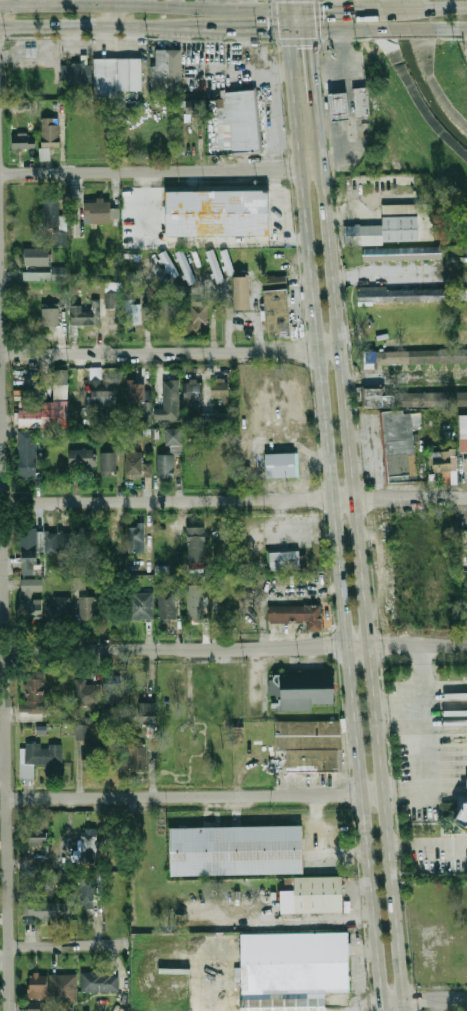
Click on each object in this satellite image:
road: (284, 5)
road: (306, 5)
road: (142, 7)
road: (446, 7)
road: (400, 9)
road: (296, 10)
traffic signals: (323, 10)
road: (333, 10)
road: (367, 10)
road: (111, 18)
road: (286, 21)
road: (308, 21)
road: (86, 29)
road: (230, 30)
traffic signals: (270, 31)
road: (298, 31)
road: (340, 31)
road: (402, 31)
road: (450, 31)
traffic signals: (310, 47)
road: (328, 61)
road: (279, 67)
road: (311, 67)
building: (165, 71)
building: (78, 74)
building: (118, 76)
river: (415, 76)
road: (270, 95)
building: (363, 102)
road: (350, 105)
building: (197, 106)
building: (340, 107)
building: (240, 121)
road: (334, 130)
building: (51, 132)
road: (286, 142)
building: (25, 143)
building: (44, 154)
road: (160, 172)
building: (219, 211)
building: (51, 212)
building: (100, 212)
building: (395, 226)
building: (61, 238)
building: (401, 253)
building: (37, 256)
building: (196, 256)
building: (226, 259)
building: (168, 262)
building: (215, 264)
building: (186, 265)
building: (60, 273)
road: (383, 274)
building: (35, 275)
building: (242, 293)
building: (463, 294)
building: (403, 295)
building: (111, 300)
building: (50, 314)
building: (86, 314)
building: (133, 314)
building: (279, 314)
building: (199, 316)
road: (169, 355)
building: (423, 355)
building: (60, 382)
building: (101, 388)
building: (137, 389)
building: (193, 389)
building: (220, 389)
building: (434, 395)
building: (170, 401)
building: (146, 413)
building: (44, 414)
building: (214, 418)
building: (464, 433)
building: (174, 437)
building: (402, 444)
building: (28, 454)
building: (83, 460)
building: (109, 463)
building: (136, 463)
building: (284, 463)
building: (447, 465)
building: (166, 467)
road: (234, 499)
road: (334, 521)
building: (84, 539)
building: (135, 539)
building: (54, 541)
building: (64, 542)
building: (198, 544)
building: (30, 551)
road: (358, 557)
building: (286, 558)
building: (78, 570)
building: (408, 571)
building: (253, 583)
building: (33, 599)
building: (140, 605)
building: (168, 605)
building: (62, 607)
building: (87, 607)
building: (225, 607)
building: (197, 608)
building: (305, 612)
road: (5, 637)
road: (236, 648)
road: (3, 678)
building: (309, 688)
building: (35, 689)
building: (113, 691)
building: (87, 693)
building: (148, 711)
road: (398, 711)
building: (310, 731)
road: (421, 731)
building: (82, 732)
building: (95, 754)
building: (40, 757)
building: (138, 757)
building: (315, 759)
road: (372, 795)
road: (184, 797)
building: (463, 818)
building: (39, 837)
building: (89, 840)
building: (238, 849)
road: (428, 852)
building: (41, 863)
building: (43, 883)
building: (88, 890)
building: (320, 891)
road: (350, 892)
building: (51, 909)
road: (362, 917)
road: (297, 921)
road: (71, 947)
building: (297, 960)
building: (101, 982)
building: (64, 988)
building: (38, 992)
road: (424, 1001)
building: (285, 1002)

